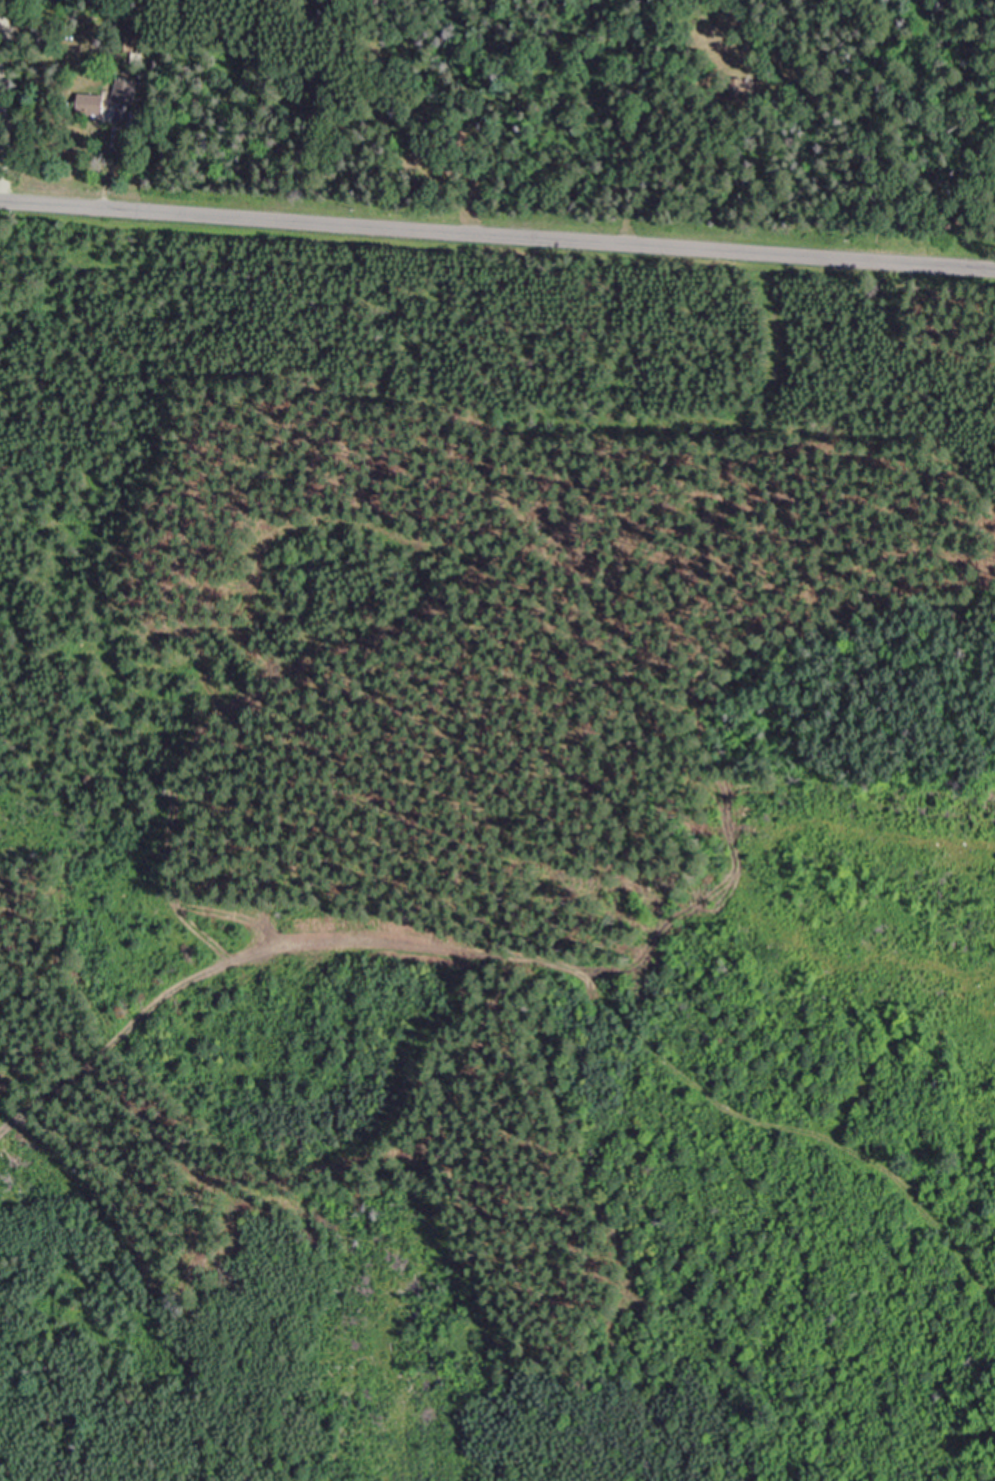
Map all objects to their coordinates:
building: (126, 91)
road: (105, 174)
road: (497, 233)
road: (529, 959)

